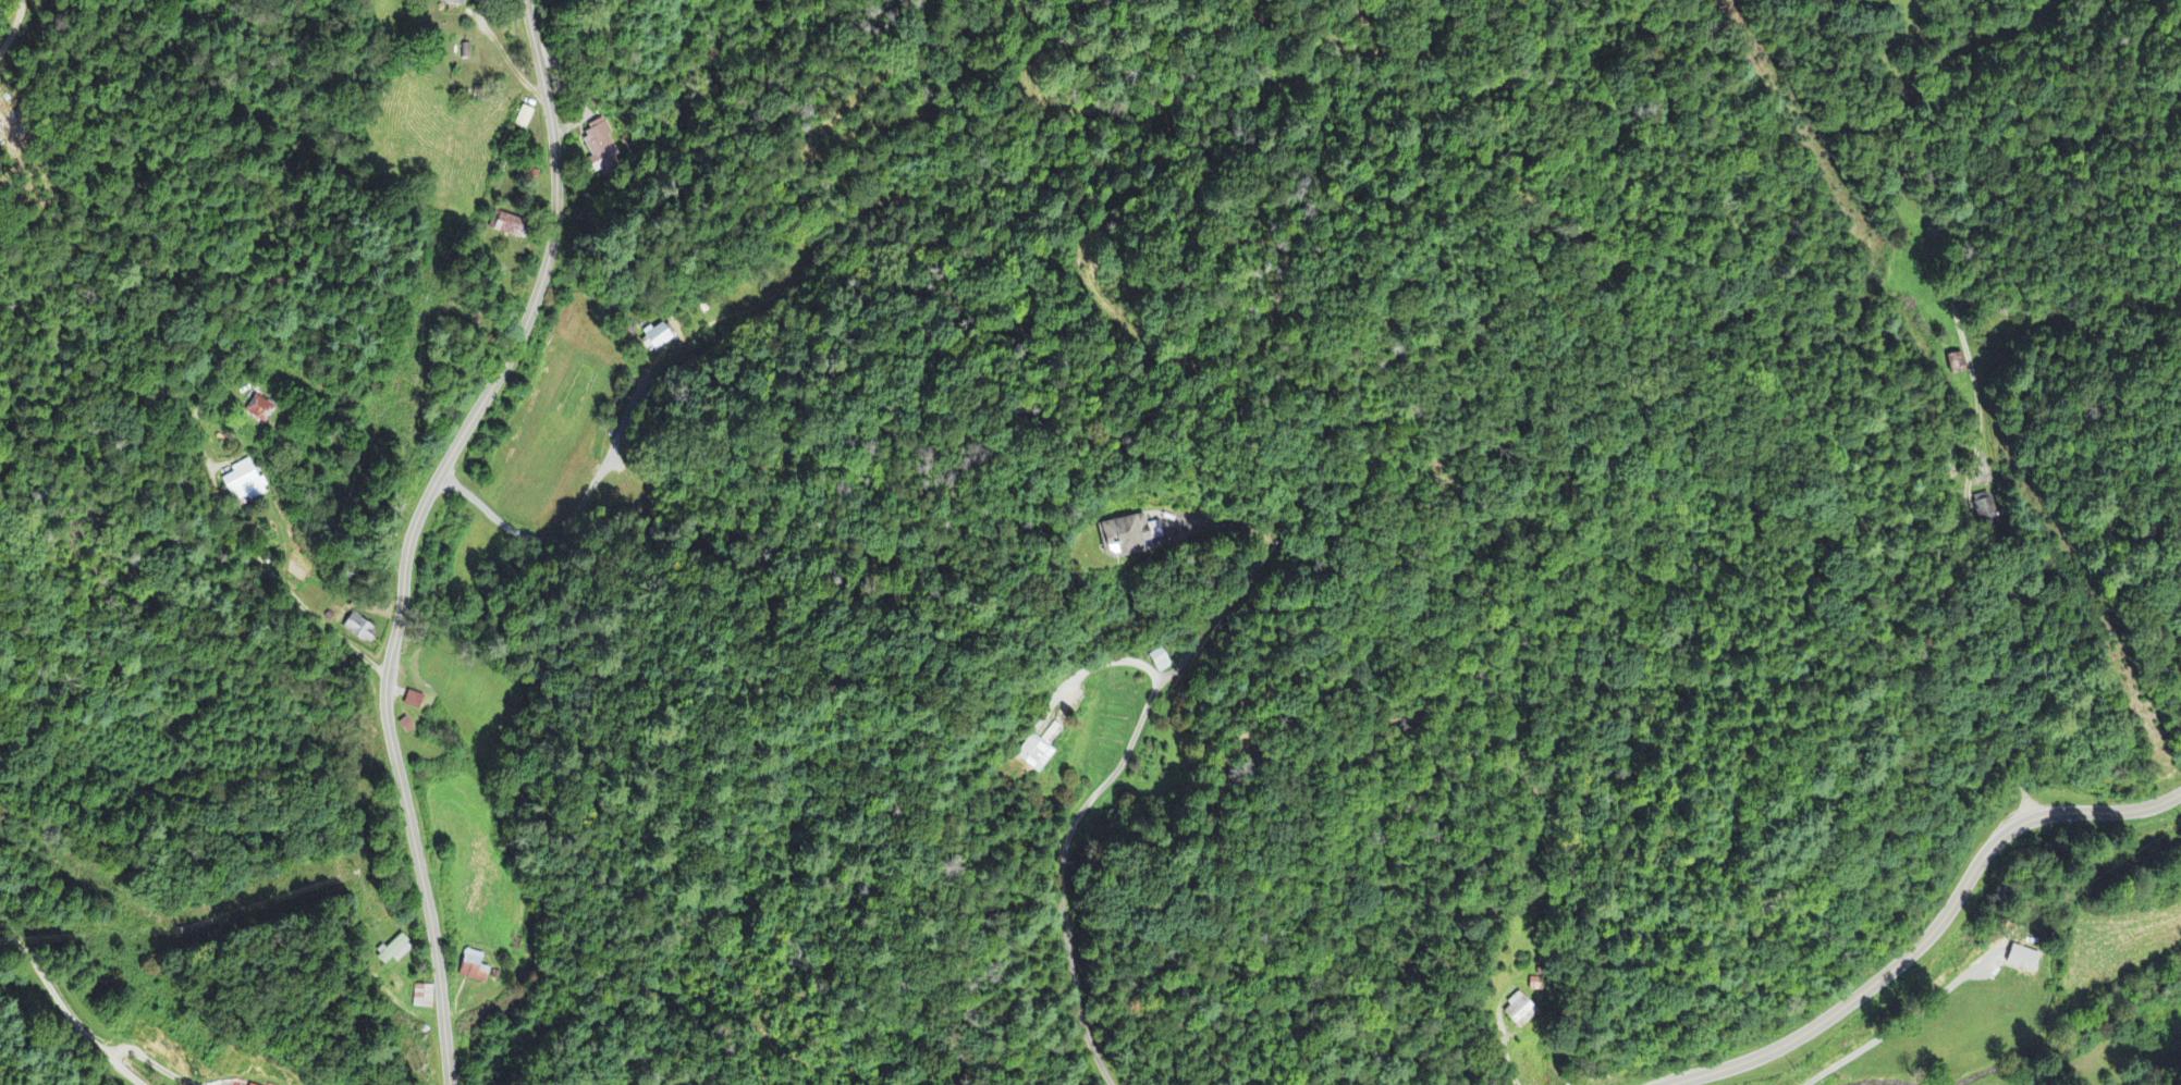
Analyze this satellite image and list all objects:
building: (453, 3)
road: (509, 59)
building: (526, 120)
building: (602, 147)
building: (509, 229)
building: (663, 337)
building: (1955, 367)
road: (1965, 372)
building: (259, 411)
building: (245, 484)
building: (1981, 508)
road: (413, 528)
road: (279, 535)
building: (1129, 538)
road: (1221, 613)
building: (362, 630)
building: (1161, 663)
building: (1032, 756)
road: (1062, 875)
road: (1937, 924)
building: (395, 953)
building: (2025, 961)
building: (476, 970)
road: (64, 1012)
building: (1516, 1013)

